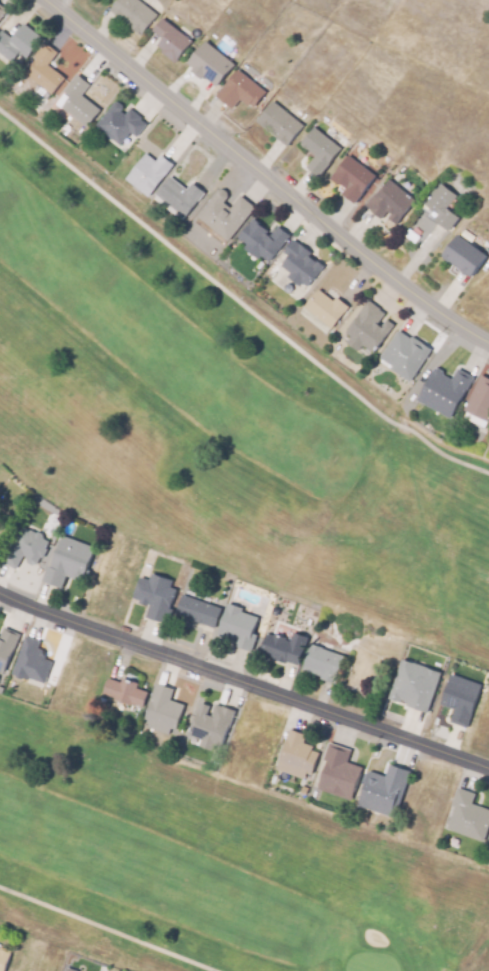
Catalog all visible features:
building: (2, 13)
building: (132, 15)
building: (169, 42)
building: (18, 44)
building: (208, 65)
building: (43, 71)
building: (239, 92)
building: (79, 103)
building: (118, 124)
building: (278, 124)
building: (319, 153)
building: (147, 175)
road: (263, 176)
building: (351, 180)
building: (179, 197)
building: (390, 203)
building: (442, 207)
building: (224, 216)
building: (260, 241)
building: (463, 256)
building: (298, 265)
road: (237, 301)
building: (325, 307)
building: (366, 328)
building: (404, 355)
building: (443, 391)
building: (479, 399)
park: (230, 403)
building: (24, 548)
building: (68, 562)
building: (154, 596)
building: (197, 611)
building: (238, 627)
building: (6, 646)
building: (282, 649)
building: (29, 662)
building: (323, 663)
road: (244, 683)
building: (413, 685)
building: (124, 692)
building: (461, 699)
building: (162, 711)
building: (210, 726)
building: (298, 754)
building: (338, 774)
building: (384, 790)
building: (468, 816)
park: (207, 861)
building: (3, 958)
building: (67, 970)

